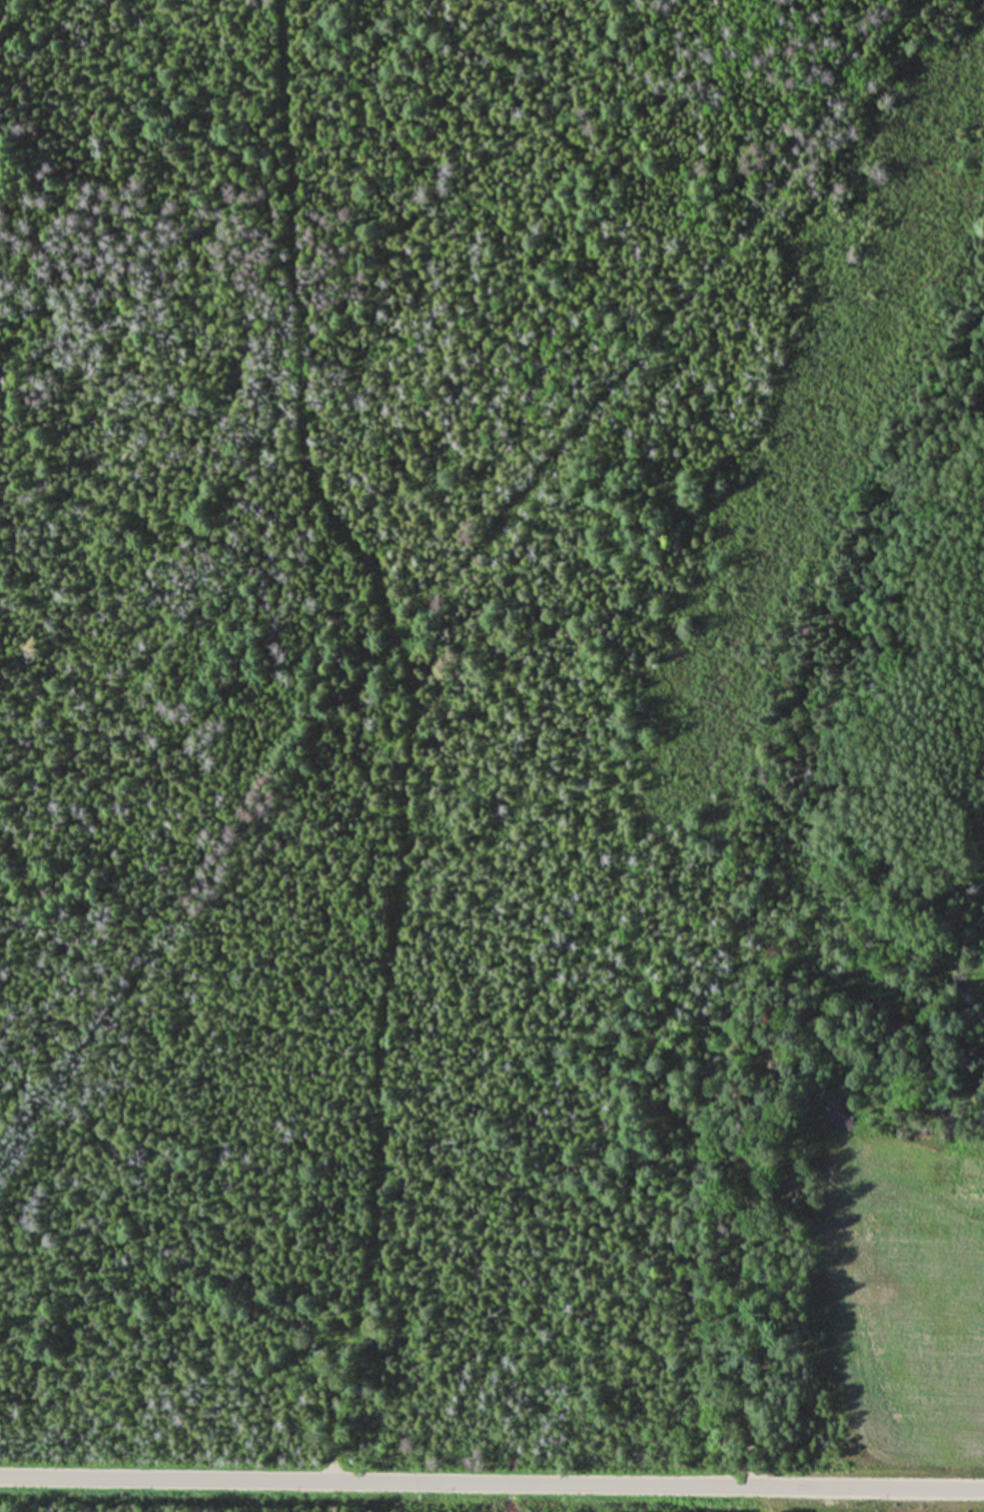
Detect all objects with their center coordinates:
road: (491, 1483)

